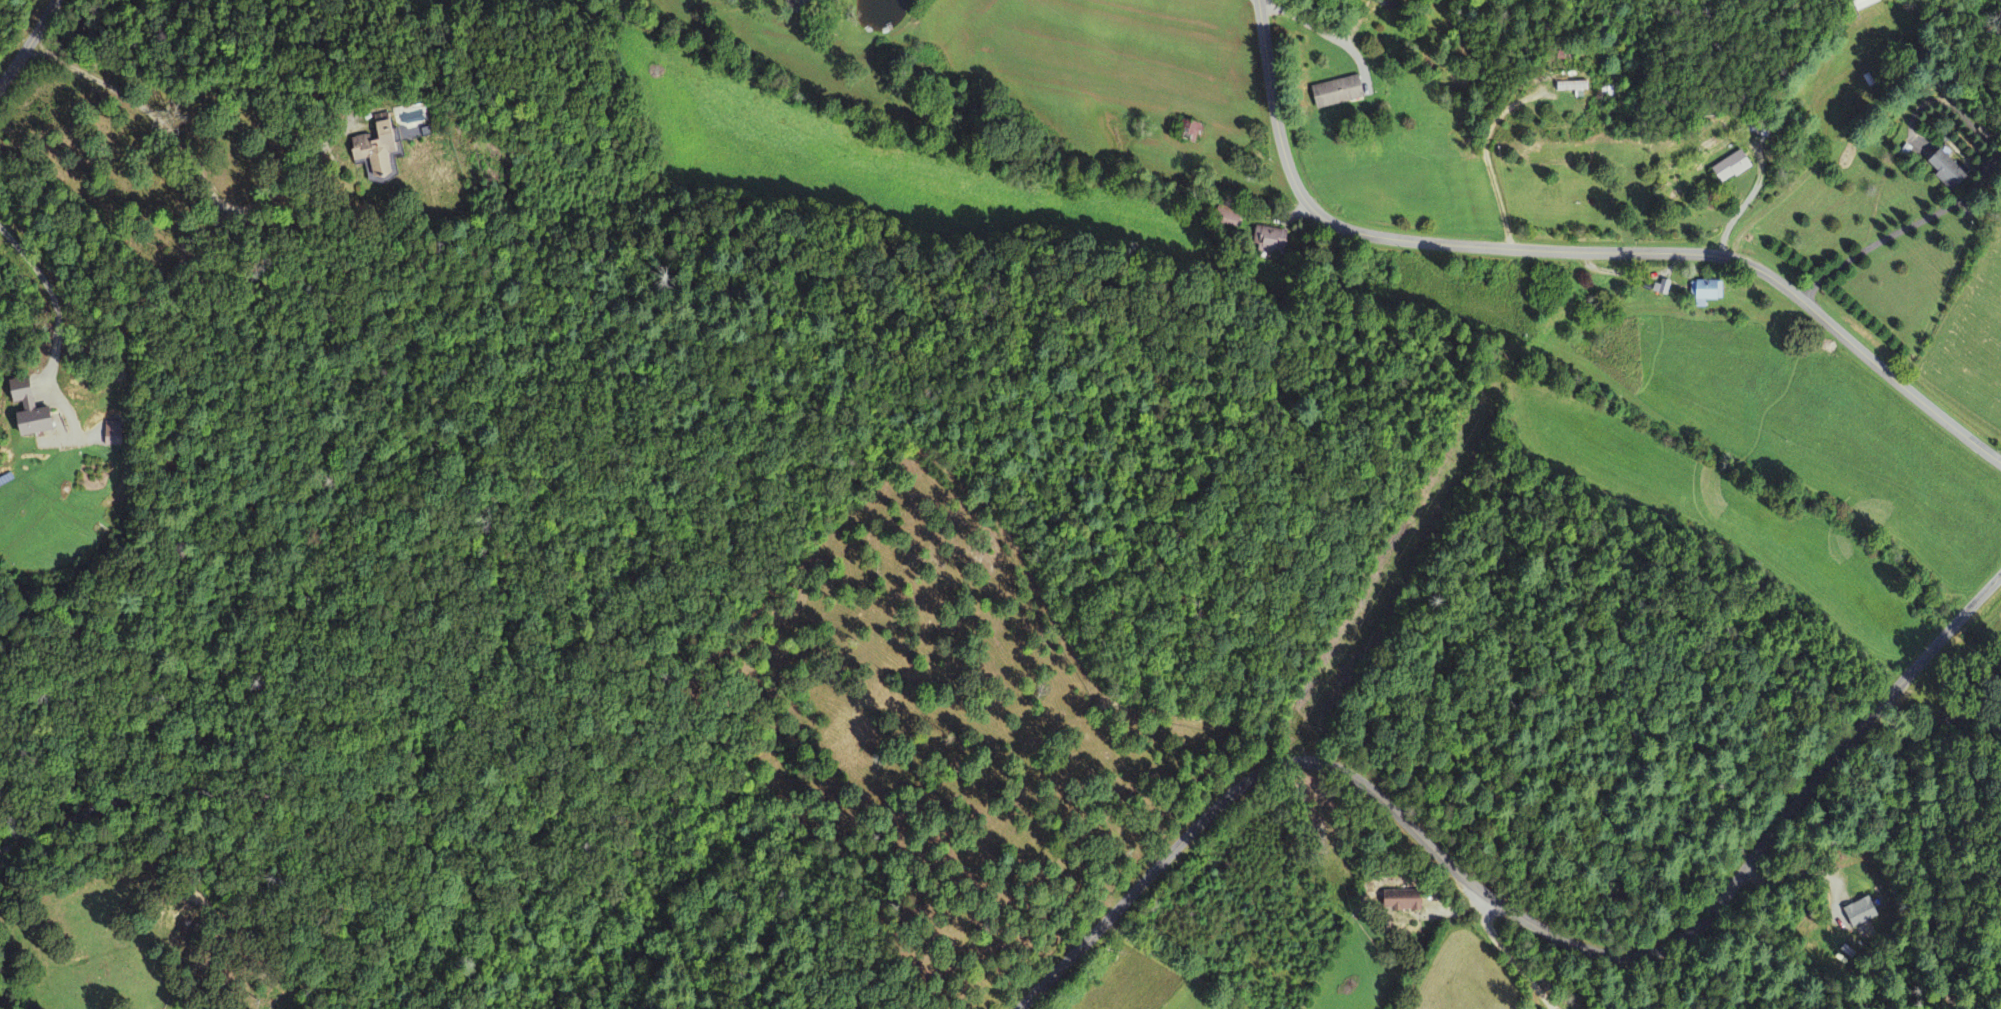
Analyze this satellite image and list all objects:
road: (29, 43)
building: (1573, 88)
building: (1335, 93)
building: (1192, 132)
building: (375, 148)
building: (1730, 168)
building: (1946, 172)
building: (1270, 240)
road: (1581, 248)
building: (1660, 289)
building: (1706, 293)
building: (28, 411)
building: (1401, 901)
road: (1518, 915)
building: (1857, 918)

